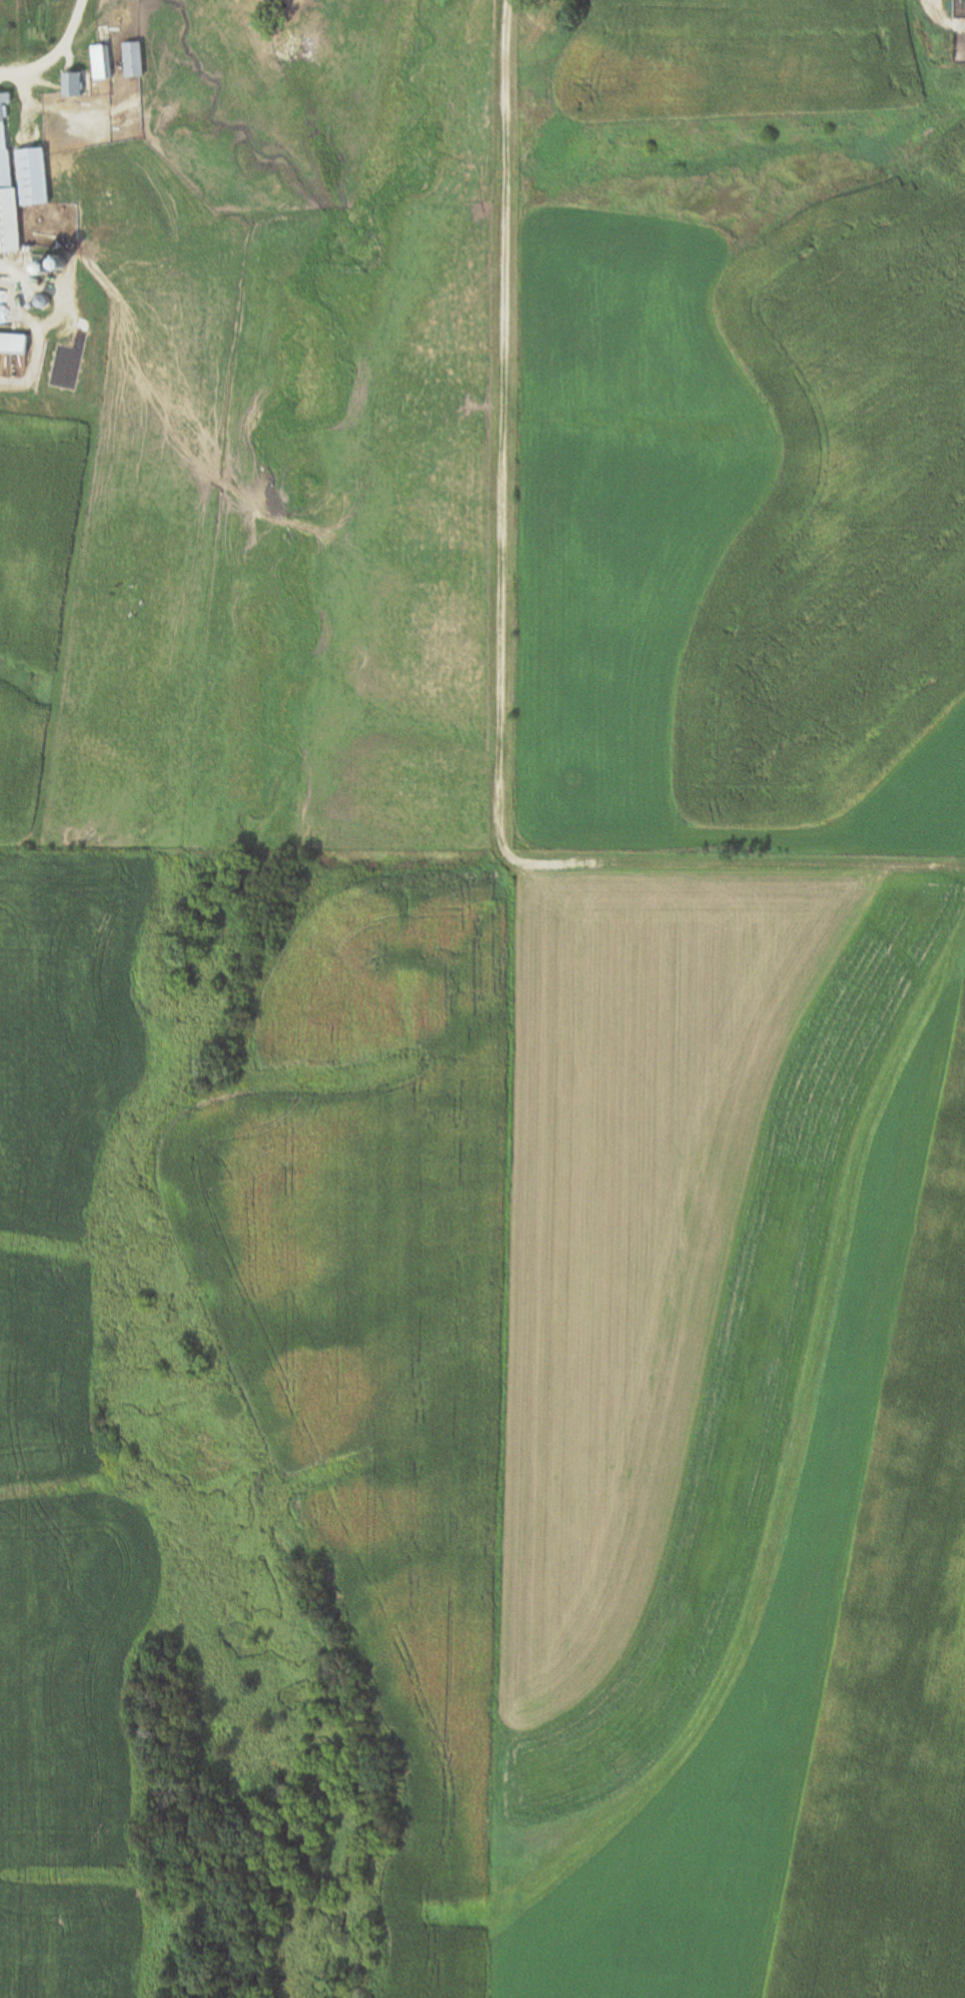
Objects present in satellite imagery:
building: (40, 26)
road: (52, 52)
building: (134, 60)
building: (101, 63)
building: (73, 85)
building: (33, 177)
building: (6, 184)
building: (13, 344)

